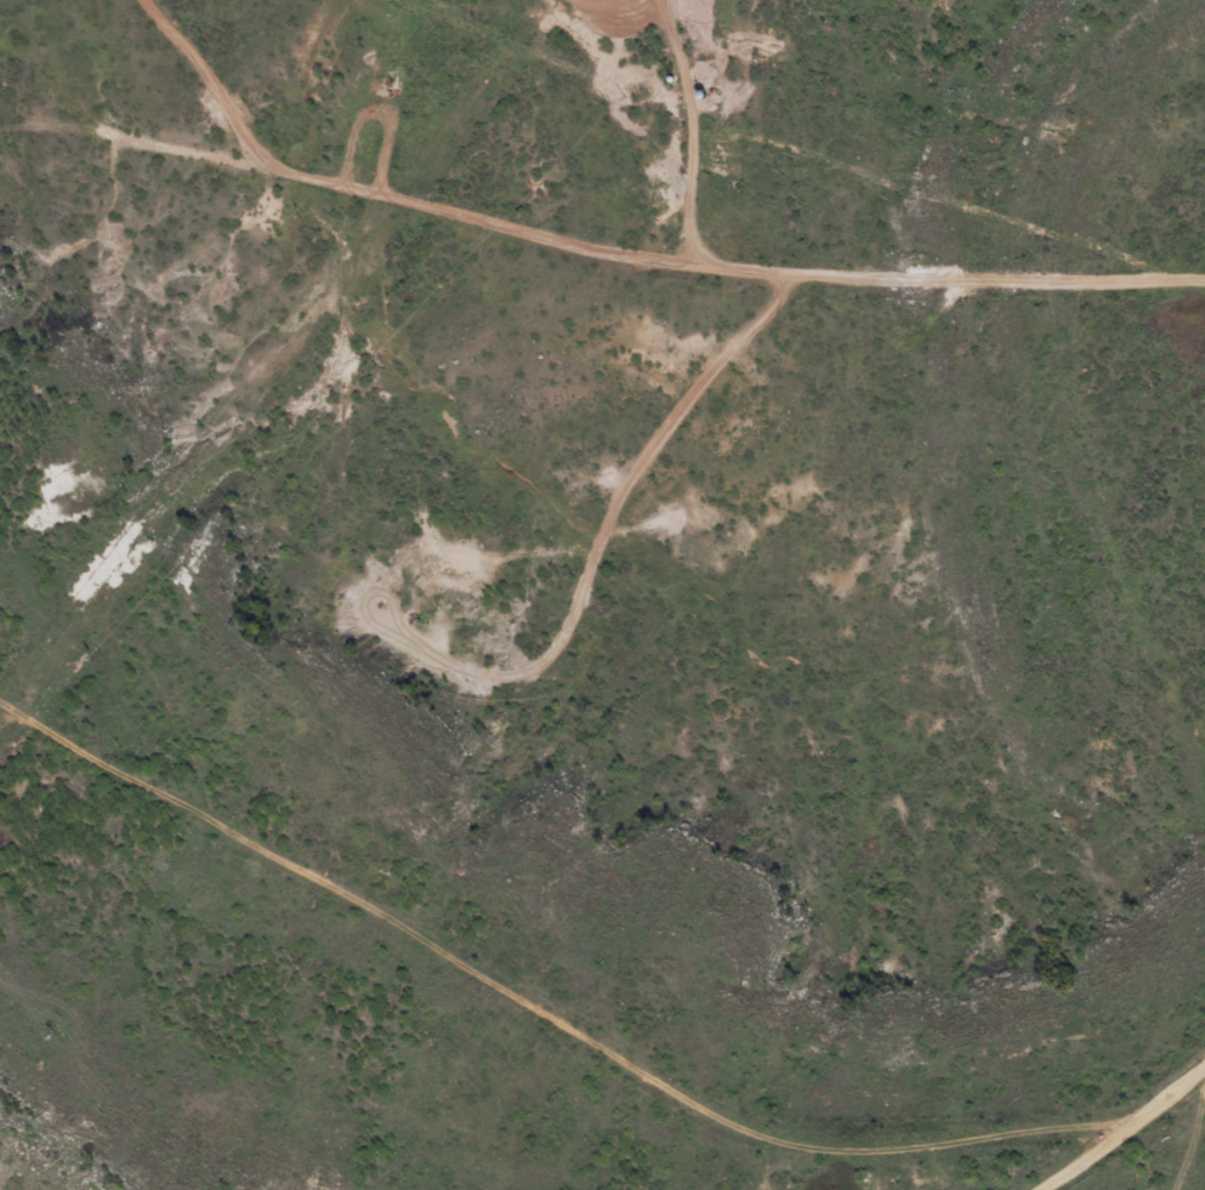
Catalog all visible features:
road: (749, 51)
road: (731, 133)
road: (599, 261)
road: (515, 1023)
road: (1121, 1128)

